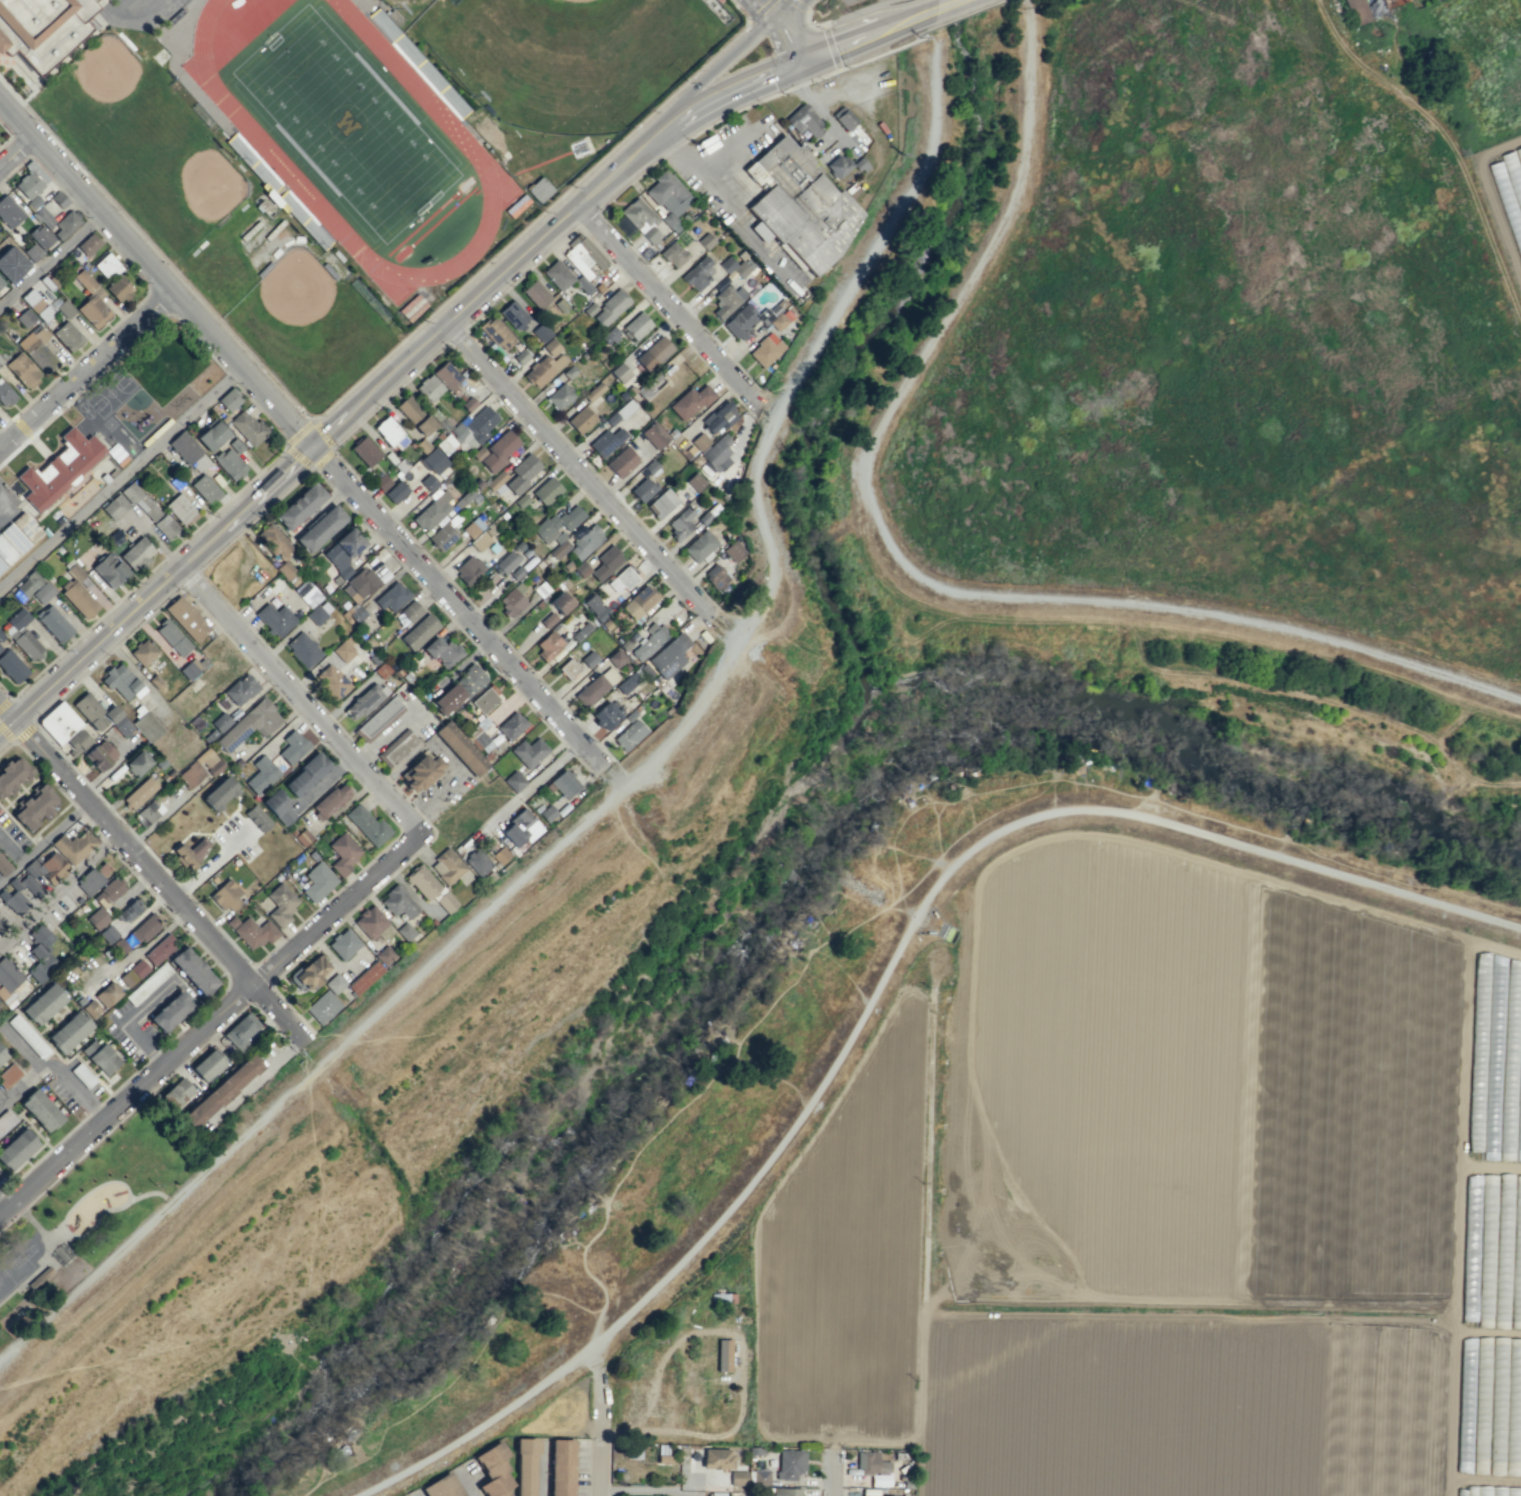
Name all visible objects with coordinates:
park: (927, 0)
park: (180, 1)
road: (897, 3)
road: (799, 4)
crop: (1427, 5)
road: (943, 6)
park: (406, 8)
road: (766, 9)
road: (784, 9)
road: (738, 10)
road: (758, 10)
building: (1357, 11)
road: (858, 12)
road: (963, 14)
road: (810, 23)
building: (41, 28)
road: (917, 33)
road: (925, 36)
road: (862, 38)
road: (787, 41)
road: (830, 47)
park: (567, 55)
traffic signals: (797, 65)
road: (711, 71)
road: (725, 96)
road: (813, 104)
park: (102, 105)
building: (804, 120)
building: (847, 120)
park: (346, 122)
road: (10, 135)
track: (461, 138)
road: (729, 142)
road: (20, 146)
road: (15, 149)
building: (838, 165)
road: (643, 169)
building: (30, 180)
park: (175, 186)
building: (539, 189)
building: (668, 197)
building: (59, 199)
road: (731, 204)
building: (516, 205)
building: (807, 205)
building: (9, 211)
road: (588, 217)
building: (641, 219)
building: (57, 222)
building: (624, 226)
road: (121, 233)
building: (40, 236)
building: (707, 241)
park: (889, 241)
building: (88, 244)
building: (32, 252)
building: (675, 255)
road: (50, 256)
building: (583, 260)
road: (614, 263)
building: (11, 264)
building: (728, 264)
building: (106, 265)
building: (698, 274)
building: (559, 275)
road: (144, 282)
building: (1, 283)
building: (119, 289)
building: (536, 294)
building: (91, 300)
building: (727, 300)
road: (157, 301)
road: (666, 303)
building: (36, 305)
building: (562, 305)
building: (412, 307)
building: (611, 307)
building: (65, 308)
building: (513, 314)
building: (25, 317)
building: (781, 319)
building: (741, 322)
road: (149, 326)
building: (636, 326)
park: (305, 329)
building: (541, 332)
building: (497, 333)
road: (455, 335)
building: (67, 336)
building: (609, 336)
building: (551, 347)
building: (37, 348)
building: (767, 349)
building: (653, 353)
building: (521, 356)
crop: (1249, 356)
road: (85, 366)
building: (543, 369)
building: (23, 370)
building: (569, 371)
building: (620, 372)
building: (447, 375)
road: (361, 378)
building: (431, 387)
building: (593, 391)
building: (5, 395)
building: (560, 395)
building: (229, 399)
building: (690, 402)
building: (470, 404)
road: (279, 406)
building: (409, 409)
building: (620, 412)
building: (719, 417)
building: (580, 419)
building: (424, 424)
road: (21, 426)
building: (248, 427)
building: (475, 427)
road: (525, 428)
road: (321, 431)
road: (329, 433)
building: (390, 434)
building: (211, 435)
building: (654, 435)
building: (606, 441)
building: (699, 441)
building: (447, 443)
building: (235, 445)
traffic signals: (315, 446)
building: (184, 447)
building: (499, 450)
building: (365, 451)
road: (294, 452)
building: (717, 454)
building: (433, 461)
building: (621, 462)
building: (199, 463)
building: (229, 464)
building: (402, 466)
building: (59, 468)
road: (578, 469)
building: (522, 472)
road: (121, 478)
building: (382, 482)
building: (430, 482)
building: (497, 482)
building: (695, 482)
building: (479, 484)
building: (205, 488)
building: (642, 489)
building: (548, 491)
building: (396, 492)
building: (121, 500)
building: (522, 501)
building: (661, 503)
building: (300, 505)
building: (147, 507)
building: (179, 508)
building: (432, 511)
road: (255, 519)
building: (558, 523)
building: (680, 523)
building: (26, 526)
building: (165, 526)
building: (320, 528)
building: (442, 537)
building: (274, 541)
building: (479, 541)
building: (585, 542)
building: (11, 544)
building: (700, 546)
building: (561, 549)
building: (343, 551)
building: (734, 551)
building: (136, 553)
building: (600, 564)
building: (285, 569)
building: (468, 569)
building: (109, 570)
road: (148, 572)
building: (516, 572)
building: (716, 576)
building: (623, 577)
road: (188, 580)
building: (27, 584)
building: (360, 584)
building: (42, 592)
building: (77, 592)
building: (307, 593)
building: (392, 596)
building: (639, 601)
building: (511, 602)
building: (562, 603)
building: (540, 604)
road: (473, 607)
building: (595, 607)
road: (460, 609)
building: (319, 612)
building: (357, 613)
building: (408, 613)
building: (186, 618)
building: (275, 619)
building: (549, 620)
building: (53, 623)
road: (453, 623)
park: (754, 623)
building: (607, 625)
building: (580, 631)
building: (419, 632)
building: (21, 634)
building: (1, 636)
building: (172, 637)
building: (649, 641)
building: (548, 645)
building: (0, 647)
building: (303, 649)
building: (442, 650)
building: (343, 651)
building: (143, 652)
building: (669, 655)
building: (616, 658)
building: (591, 659)
building: (12, 666)
building: (191, 668)
building: (570, 669)
building: (381, 670)
building: (121, 681)
building: (332, 681)
building: (627, 683)
building: (596, 686)
building: (241, 689)
building: (458, 690)
road: (5, 691)
building: (485, 699)
park: (790, 699)
road: (299, 700)
building: (364, 700)
road: (5, 702)
building: (89, 710)
building: (607, 715)
building: (117, 720)
building: (58, 722)
building: (220, 722)
building: (249, 724)
building: (147, 726)
building: (513, 726)
river: (1044, 733)
building: (630, 735)
road: (15, 737)
park: (693, 737)
building: (77, 742)
road: (6, 745)
building: (293, 747)
building: (397, 747)
building: (460, 748)
road: (44, 751)
building: (530, 752)
building: (100, 755)
building: (139, 763)
building: (216, 768)
road: (636, 769)
river: (1332, 770)
building: (421, 771)
road: (621, 771)
building: (261, 774)
building: (12, 775)
building: (306, 775)
building: (514, 781)
building: (567, 784)
road: (603, 788)
building: (140, 793)
building: (219, 794)
building: (331, 800)
building: (35, 806)
building: (278, 807)
building: (565, 809)
building: (148, 812)
building: (547, 813)
building: (261, 821)
building: (367, 824)
building: (521, 828)
road: (399, 830)
building: (304, 837)
road: (43, 841)
building: (73, 846)
building: (190, 851)
building: (343, 852)
building: (501, 855)
building: (479, 862)
building: (4, 866)
building: (448, 866)
building: (47, 867)
building: (92, 877)
building: (317, 881)
building: (423, 882)
building: (107, 892)
building: (34, 893)
building: (227, 895)
building: (401, 902)
building: (448, 902)
building: (282, 904)
building: (84, 907)
road: (334, 907)
building: (129, 911)
building: (99, 918)
road: (194, 921)
building: (372, 922)
building: (1, 926)
building: (143, 929)
building: (252, 931)
building: (407, 931)
building: (109, 934)
building: (345, 945)
building: (120, 947)
building: (159, 949)
building: (40, 953)
road: (303, 954)
building: (385, 954)
building: (193, 971)
building: (133, 972)
road: (239, 972)
building: (309, 972)
road: (261, 973)
road: (226, 975)
building: (365, 977)
building: (7, 979)
building: (147, 983)
building: (336, 984)
road: (240, 991)
road: (261, 993)
building: (106, 994)
building: (81, 1001)
park: (530, 1003)
building: (43, 1004)
building: (324, 1007)
building: (92, 1009)
building: (170, 1011)
building: (242, 1030)
building: (68, 1032)
building: (28, 1036)
building: (2, 1055)
building: (100, 1057)
road: (55, 1065)
building: (208, 1065)
building: (8, 1075)
building: (83, 1075)
building: (221, 1091)
building: (179, 1093)
road: (125, 1096)
building: (40, 1110)
building: (6, 1121)
building: (17, 1149)
river: (561, 1157)
road: (86, 1192)
crop: (1149, 1198)
road: (1, 1206)
park: (94, 1209)
road: (95, 1221)
park: (30, 1248)
park: (12, 1268)
building: (40, 1277)
park: (217, 1299)
building: (723, 1355)
road: (599, 1430)
building: (717, 1458)
building: (790, 1463)
building: (872, 1463)
building: (525, 1467)
building: (561, 1467)
building: (493, 1470)
building: (761, 1476)
building: (738, 1477)
building: (880, 1480)
building: (443, 1486)
road: (647, 1490)
building: (783, 1491)
road: (834, 1491)

